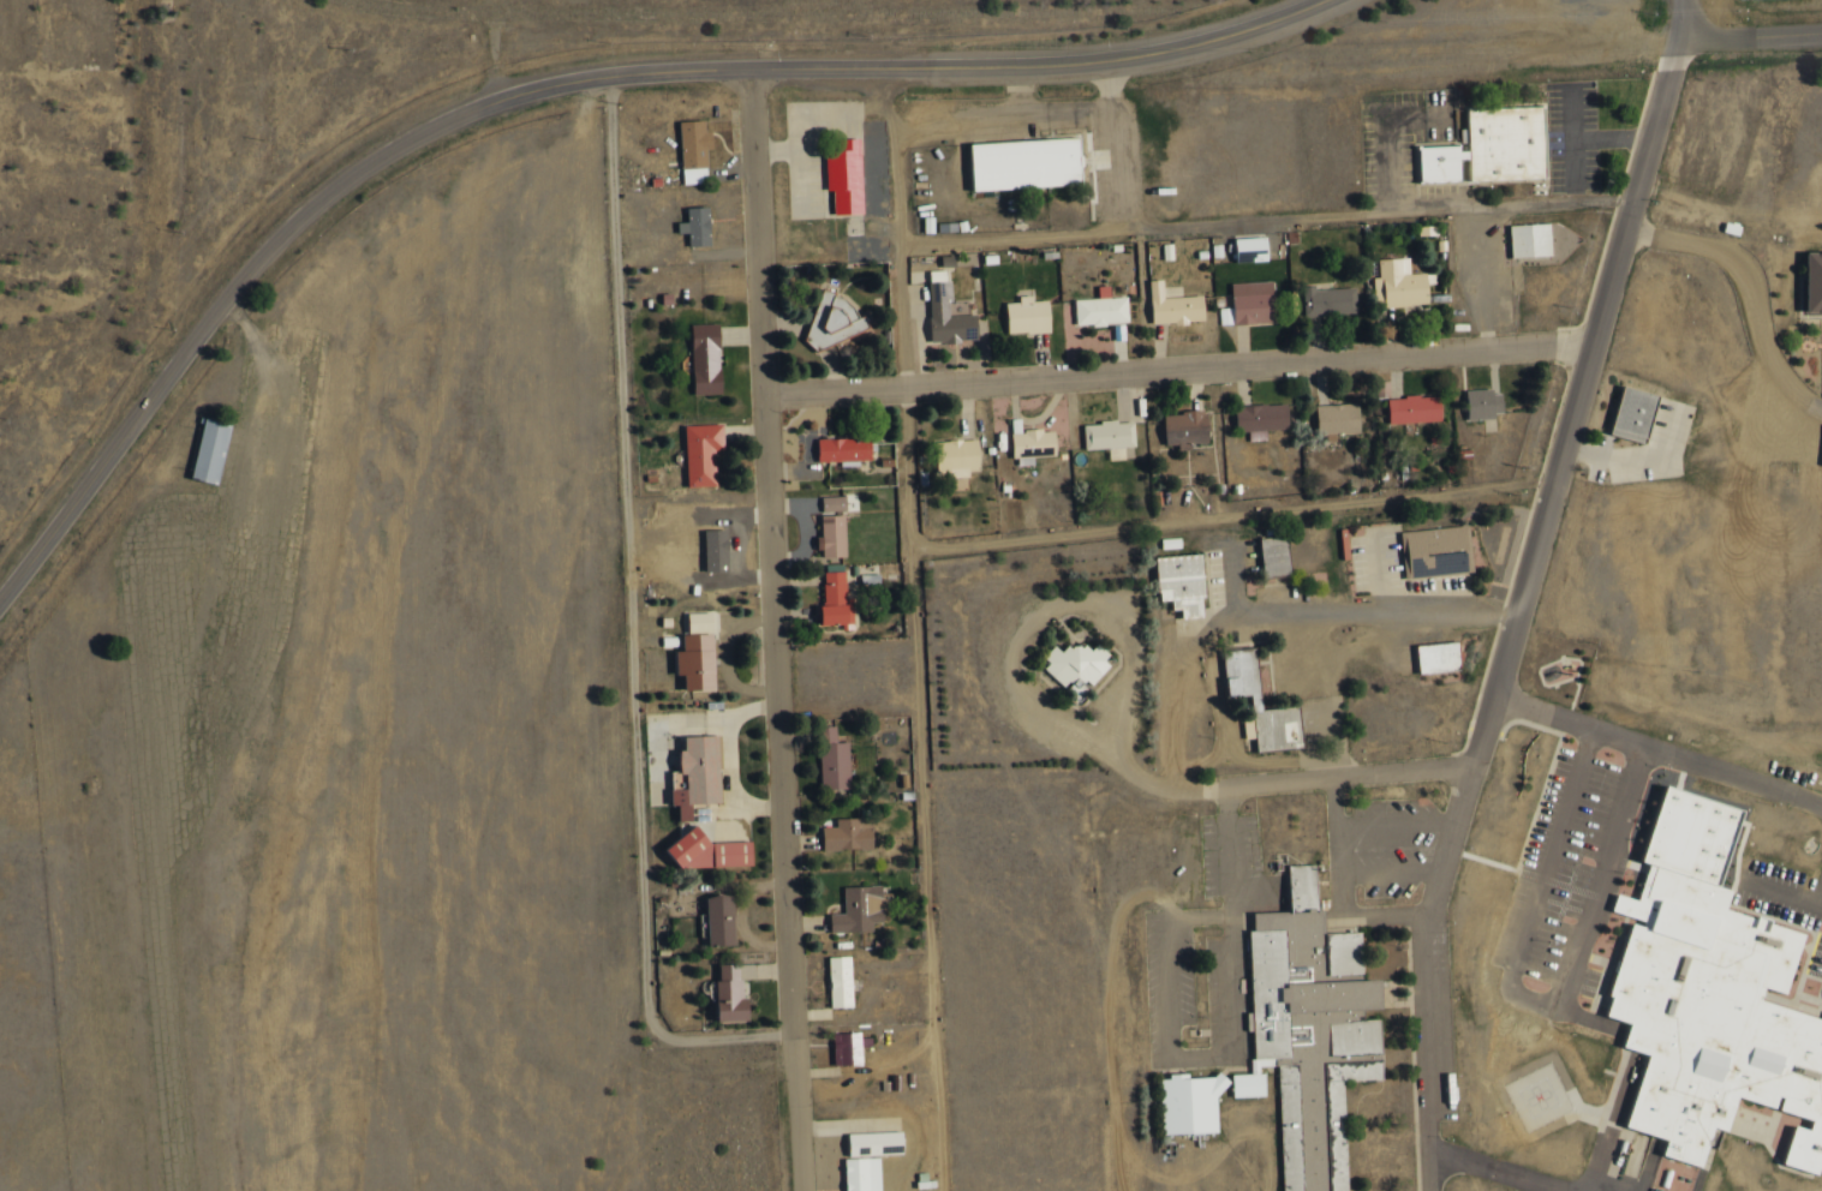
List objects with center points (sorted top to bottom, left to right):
road: (1749, 36)
road: (555, 84)
building: (1495, 139)
building: (694, 150)
building: (1014, 160)
building: (1428, 160)
building: (846, 176)
road: (1264, 216)
building: (697, 226)
building: (1521, 235)
building: (1251, 249)
building: (1809, 279)
building: (1330, 300)
building: (1254, 303)
building: (1175, 306)
building: (1103, 309)
building: (948, 313)
building: (1028, 316)
building: (1226, 316)
building: (706, 358)
road: (1175, 369)
building: (1485, 403)
building: (1415, 408)
building: (1623, 411)
building: (1338, 418)
building: (1261, 419)
building: (1185, 429)
building: (1110, 436)
building: (1033, 445)
building: (199, 447)
building: (844, 449)
building: (703, 454)
building: (957, 460)
building: (834, 503)
building: (832, 537)
road: (993, 538)
building: (1428, 547)
building: (716, 550)
building: (1265, 552)
building: (1182, 582)
road: (1519, 591)
building: (836, 600)
road: (1270, 609)
building: (699, 622)
road: (626, 626)
road: (772, 629)
building: (1429, 652)
building: (697, 662)
building: (1077, 663)
road: (1075, 736)
road: (1657, 743)
building: (835, 759)
building: (697, 774)
building: (849, 834)
building: (711, 854)
road: (920, 858)
airport runway: (153, 881)
building: (859, 910)
building: (721, 921)
building: (841, 982)
building: (730, 994)
road: (1541, 995)
building: (1703, 997)
building: (1306, 1027)
building: (849, 1048)
helipad: (1536, 1093)
building: (1179, 1100)
road: (615, 1143)
building: (876, 1143)
road: (1499, 1169)
building: (862, 1173)

